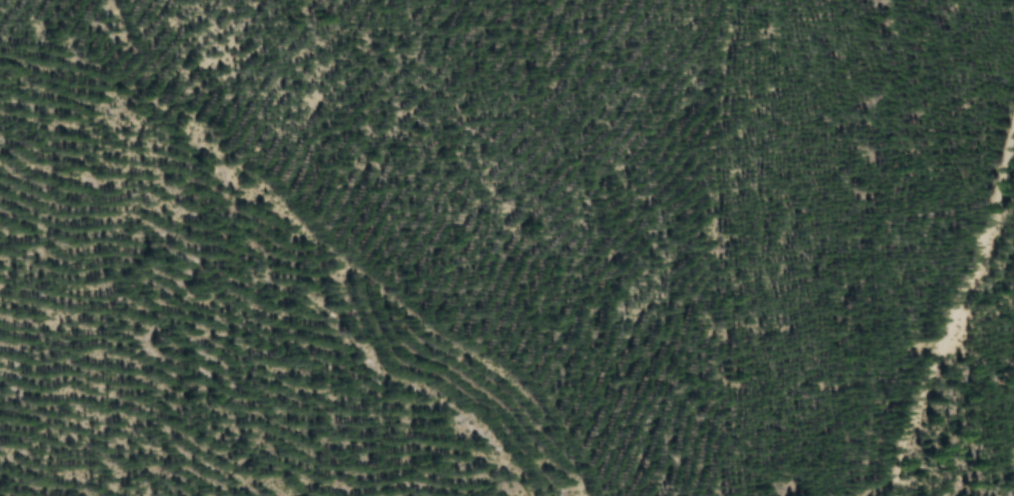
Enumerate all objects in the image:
road: (967, 346)

